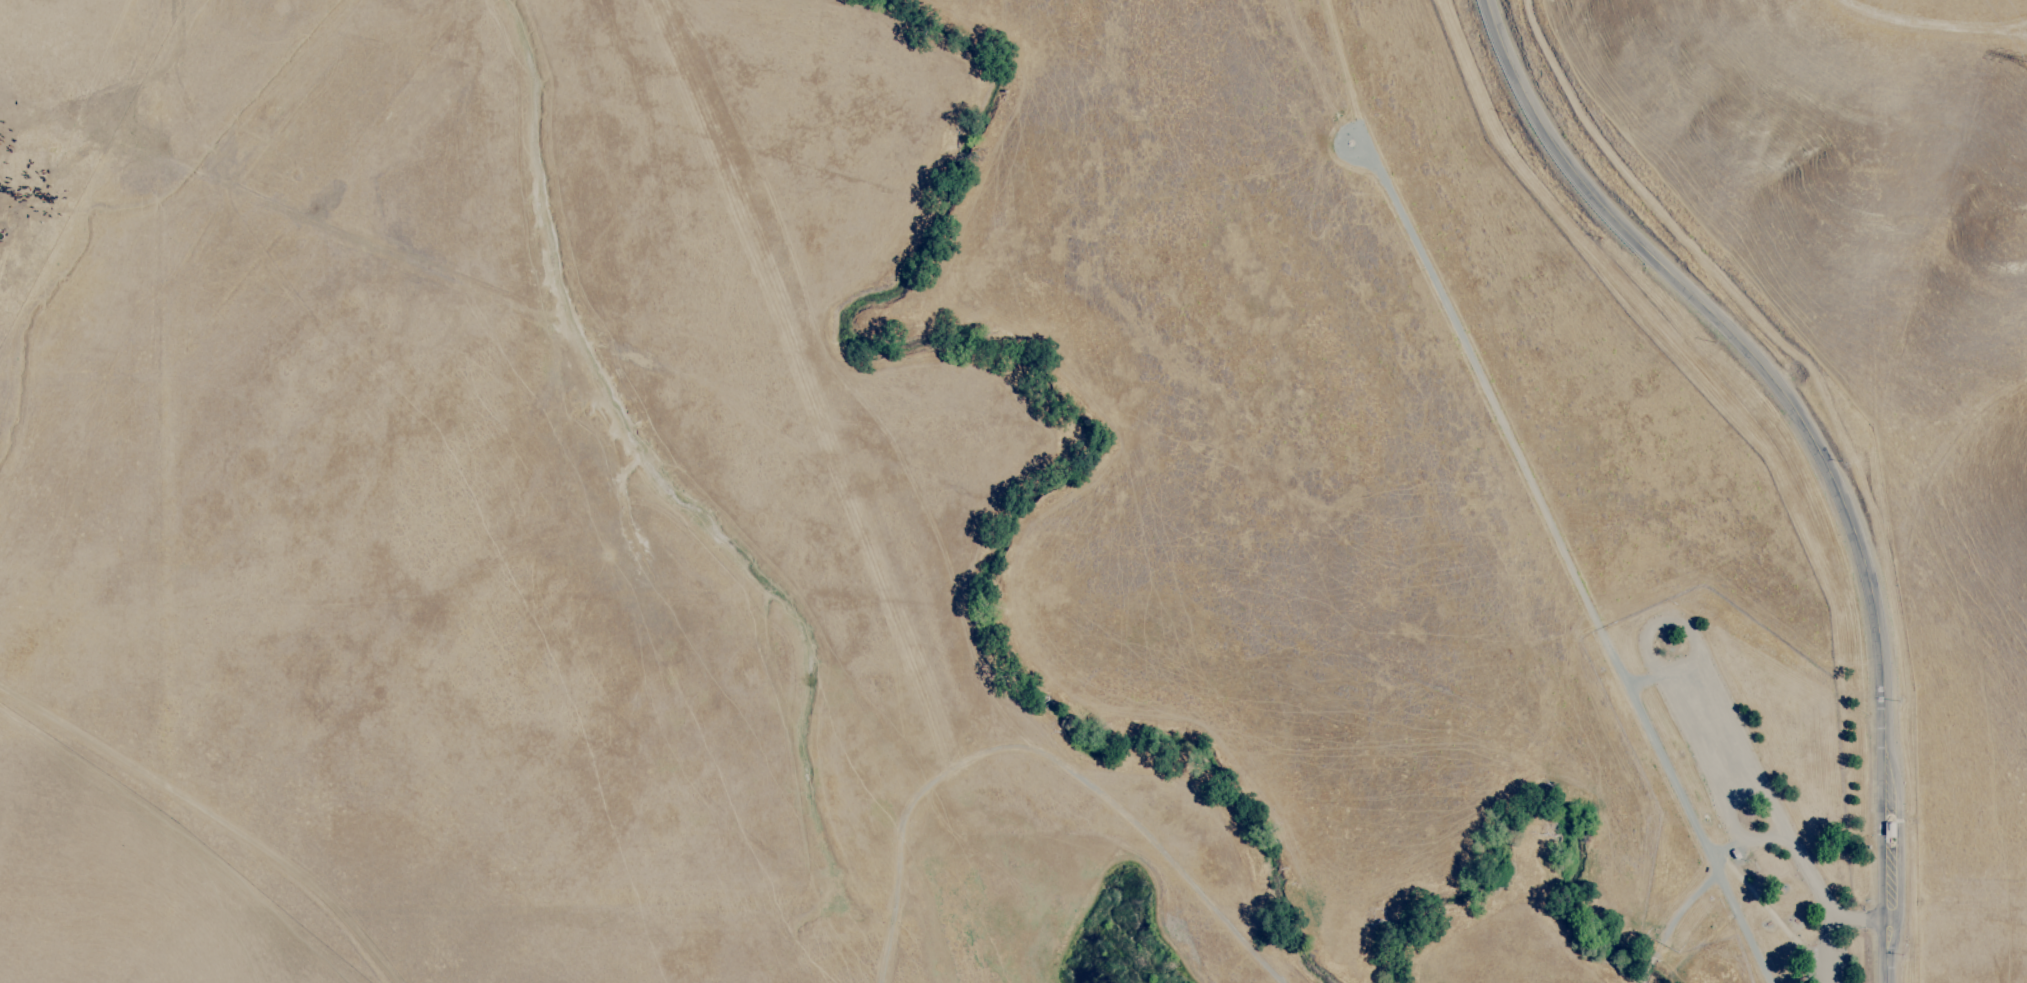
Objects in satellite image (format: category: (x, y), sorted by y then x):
road: (1812, 443)
road: (1532, 496)
road: (1744, 750)
road: (1698, 759)
road: (207, 819)
road: (1744, 842)
road: (1861, 919)
road: (1827, 948)

